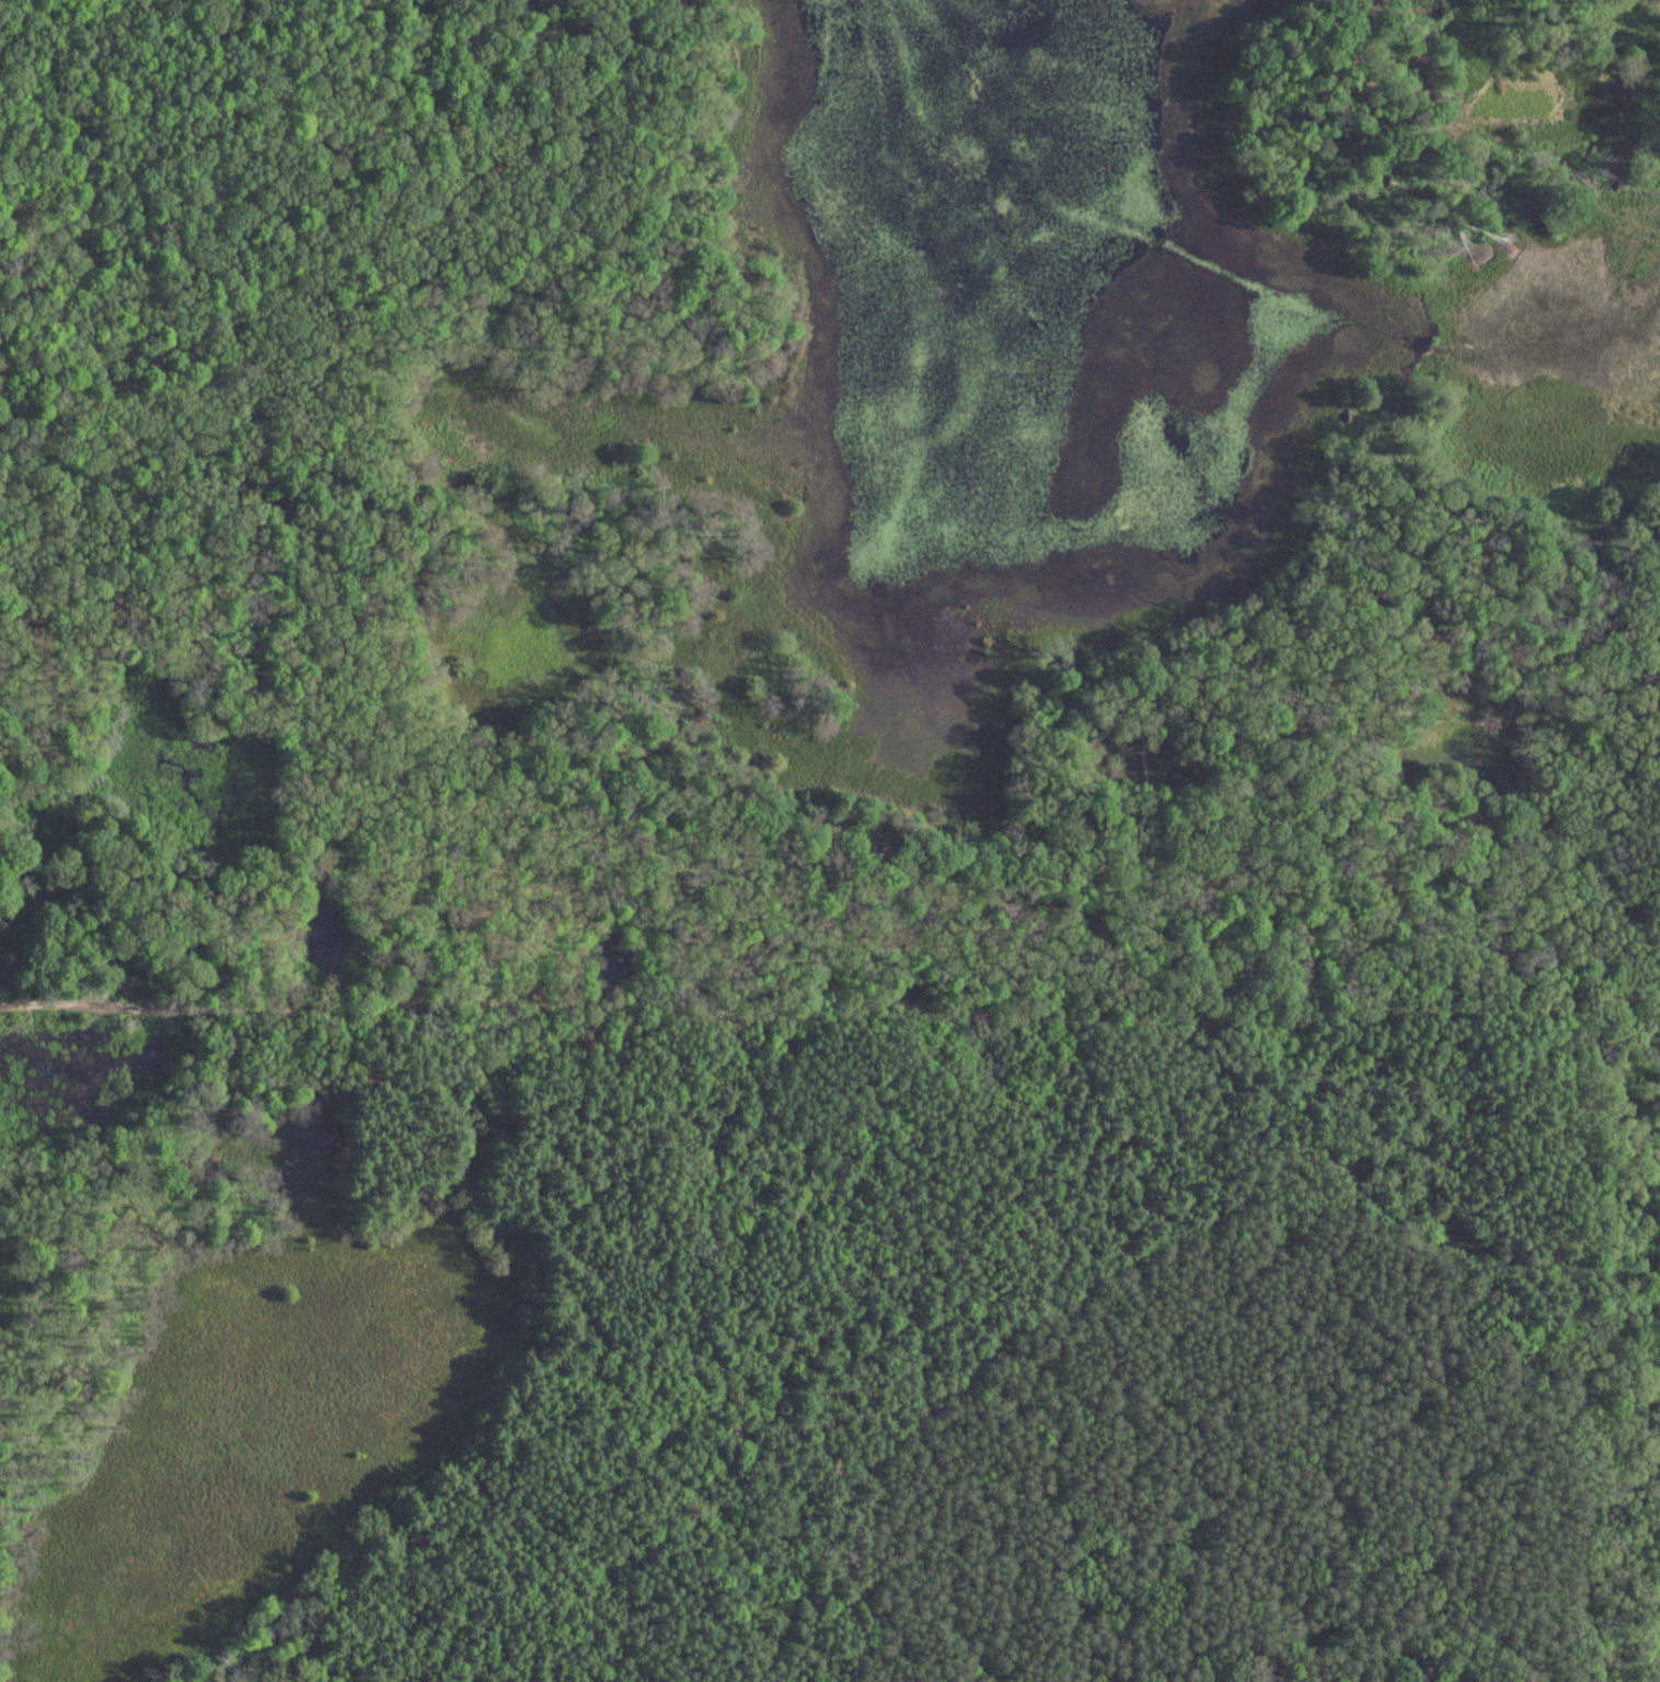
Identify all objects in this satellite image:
road: (1614, 977)
road: (784, 989)

